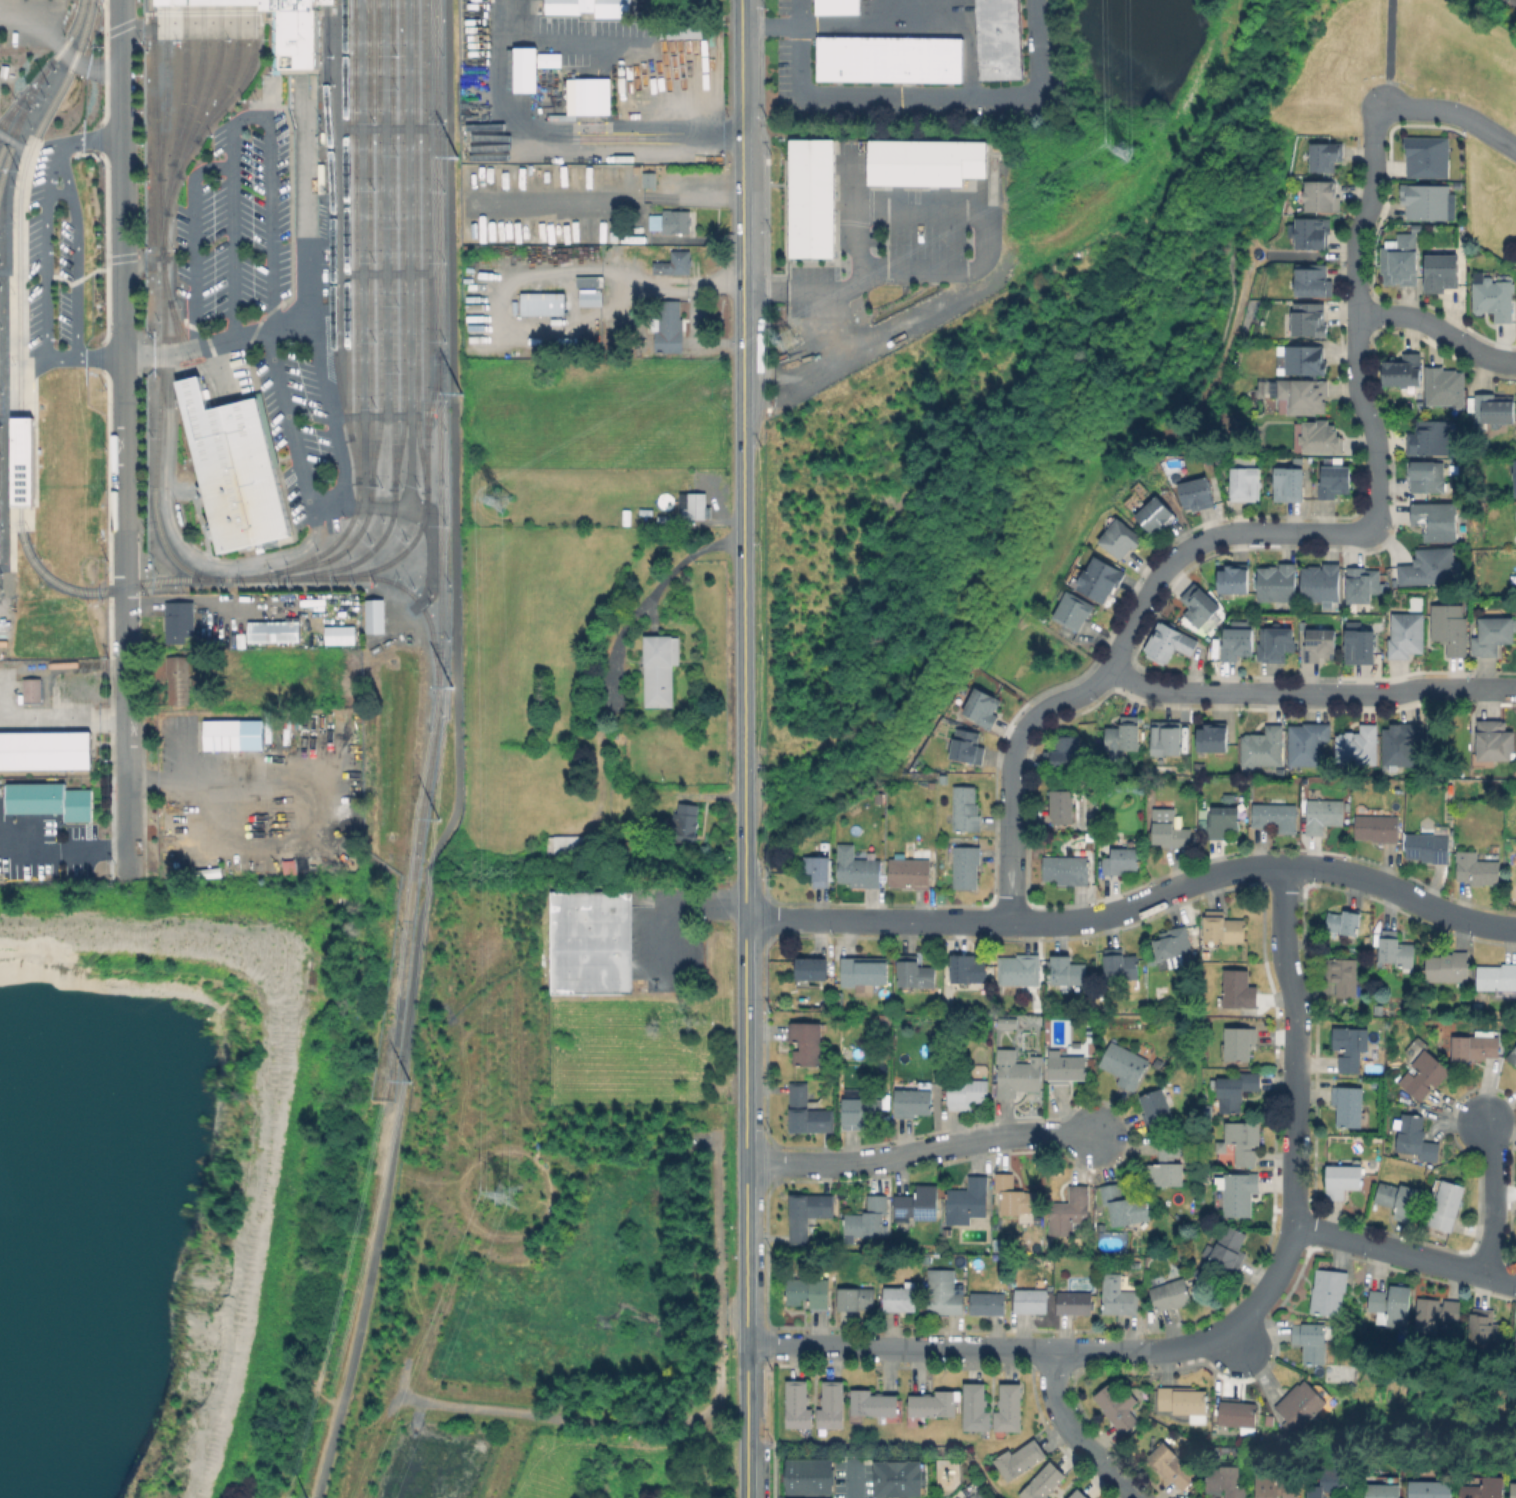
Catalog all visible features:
railway: (163, 2)
railway: (183, 2)
railway: (201, 2)
railway: (218, 2)
railway: (235, 2)
railway: (253, 2)
railway: (323, 2)
building: (695, 6)
building: (836, 6)
building: (592, 7)
road: (196, 19)
road: (878, 25)
road: (772, 27)
building: (282, 29)
building: (680, 29)
building: (996, 39)
road: (60, 47)
railway: (270, 47)
road: (1392, 53)
building: (887, 59)
railway: (45, 66)
building: (529, 66)
railway: (229, 75)
railway: (243, 78)
railway: (37, 79)
railway: (181, 84)
railway: (195, 85)
railway: (164, 91)
railway: (205, 91)
building: (586, 95)
road: (926, 96)
railway: (10, 108)
road: (1455, 114)
road: (247, 117)
railway: (12, 124)
road: (383, 127)
railway: (12, 137)
road: (87, 139)
road: (303, 143)
power tower: (1125, 149)
road: (555, 150)
building: (1424, 156)
building: (1324, 157)
building: (923, 162)
railway: (175, 173)
road: (429, 175)
building: (649, 178)
road: (57, 193)
building: (1322, 196)
building: (809, 198)
railway: (17, 201)
building: (1427, 202)
road: (338, 203)
road: (741, 206)
railway: (163, 207)
road: (384, 207)
railway: (344, 219)
railway: (331, 221)
building: (671, 221)
road: (325, 231)
building: (1310, 233)
building: (606, 238)
railway: (353, 240)
road: (194, 241)
railway: (367, 241)
railway: (376, 241)
railway: (390, 243)
railway: (400, 244)
railway: (422, 245)
railway: (413, 246)
road: (75, 249)
road: (360, 252)
road: (407, 254)
road: (158, 256)
road: (991, 257)
building: (675, 262)
building: (1401, 262)
road: (44, 266)
road: (5, 272)
road: (384, 272)
building: (1442, 273)
road: (82, 276)
railway: (162, 280)
building: (586, 280)
building: (1314, 281)
building: (590, 296)
building: (1494, 299)
building: (543, 303)
railway: (161, 307)
building: (1306, 318)
road: (693, 319)
building: (668, 326)
road: (1439, 330)
road: (255, 331)
power tower: (786, 337)
railway: (177, 338)
road: (10, 345)
railway: (192, 352)
road: (99, 355)
road: (27, 356)
building: (1303, 362)
building: (1404, 372)
building: (1445, 388)
building: (1302, 395)
railway: (430, 400)
building: (1494, 409)
road: (373, 415)
road: (4, 417)
railway: (3, 430)
building: (1320, 438)
road: (124, 439)
building: (1431, 439)
railway: (204, 451)
railway: (437, 459)
railway: (18, 460)
building: (21, 460)
road: (33, 463)
railway: (230, 463)
rooftop solar panel: (21, 468)
building: (233, 469)
rooftop solar panel: (21, 475)
building: (1513, 477)
building: (1424, 478)
building: (1246, 479)
rooftop solar panel: (21, 483)
building: (1334, 483)
building: (1290, 485)
rooftop solar panel: (20, 492)
building: (1197, 495)
power tower: (498, 498)
rooftop solar panel: (20, 500)
railway: (30, 504)
road: (328, 505)
building: (619, 506)
building: (695, 506)
building: (1157, 517)
building: (668, 519)
building: (1437, 521)
road: (1270, 531)
railway: (289, 536)
road: (173, 537)
building: (1120, 540)
railway: (334, 541)
road: (431, 541)
railway: (342, 548)
railway: (361, 556)
road: (5, 566)
building: (1429, 568)
railway: (346, 574)
building: (1234, 579)
building: (1099, 581)
building: (1278, 584)
building: (1321, 584)
building: (1363, 585)
railway: (91, 591)
road: (648, 593)
railway: (417, 601)
building: (1199, 607)
building: (1073, 614)
building: (372, 615)
building: (179, 621)
building: (1451, 630)
building: (274, 631)
building: (340, 634)
building: (1407, 635)
building: (1494, 637)
rooftop solar panel: (1314, 641)
building: (1238, 642)
building: (1169, 645)
building: (1274, 645)
building: (1320, 647)
building: (1360, 649)
rooftop solar panel: (1305, 653)
road: (743, 665)
building: (659, 669)
building: (179, 679)
building: (30, 690)
road: (1311, 693)
building: (983, 708)
building: (291, 724)
building: (237, 733)
building: (1122, 738)
building: (1167, 739)
building: (1211, 739)
building: (1493, 743)
building: (1308, 744)
building: (1401, 745)
building: (966, 746)
building: (1358, 746)
building: (1264, 749)
building: (44, 750)
building: (1063, 754)
road: (458, 757)
building: (1199, 767)
building: (943, 778)
building: (51, 801)
building: (1062, 806)
building: (965, 809)
building: (1323, 815)
building: (1275, 816)
building: (1223, 821)
building: (685, 822)
building: (1377, 828)
building: (1167, 833)
building: (1429, 846)
building: (566, 847)
road: (64, 850)
building: (856, 851)
building: (1120, 860)
building: (966, 866)
building: (1066, 869)
building: (1476, 869)
building: (820, 871)
building: (860, 872)
building: (910, 873)
road: (668, 902)
road: (1137, 907)
building: (1344, 924)
building: (1224, 927)
building: (589, 942)
building: (1173, 942)
building: (1396, 950)
building: (1120, 965)
building: (1448, 967)
building: (812, 968)
building: (968, 968)
building: (1019, 970)
building: (864, 971)
building: (1069, 971)
building: (915, 972)
building: (1342, 976)
building: (1498, 979)
building: (1239, 989)
building: (837, 1002)
building: (1378, 1009)
building: (956, 1012)
building: (1005, 1023)
building: (806, 1043)
building: (1240, 1043)
road: (1294, 1044)
building: (1476, 1045)
building: (1350, 1047)
building: (1512, 1056)
building: (1124, 1064)
building: (1067, 1068)
building: (1016, 1073)
building: (1424, 1073)
building: (1235, 1090)
building: (967, 1093)
road: (273, 1095)
building: (913, 1102)
building: (1348, 1105)
building: (1395, 1109)
building: (1156, 1110)
building: (808, 1111)
building: (862, 1112)
road: (744, 1131)
building: (1416, 1137)
building: (1242, 1141)
road: (920, 1151)
building: (1168, 1163)
quarry: (155, 1173)
building: (1344, 1179)
building: (1015, 1193)
building: (1239, 1193)
power tower: (506, 1195)
road: (1487, 1196)
building: (1400, 1200)
building: (967, 1201)
building: (918, 1203)
building: (1447, 1206)
building: (1125, 1207)
building: (1068, 1211)
rooftop solar panel: (899, 1212)
building: (807, 1214)
rooftop solar panel: (927, 1214)
building: (868, 1219)
building: (946, 1231)
building: (1228, 1248)
road: (1402, 1255)
building: (924, 1263)
building: (808, 1292)
building: (1330, 1292)
building: (944, 1295)
building: (1119, 1295)
building: (1171, 1295)
building: (856, 1298)
building: (900, 1298)
building: (1031, 1300)
building: (1075, 1302)
building: (988, 1304)
building: (1391, 1306)
building: (1436, 1313)
building: (1485, 1327)
building: (1514, 1337)
building: (1311, 1341)
road: (1236, 1344)
road: (1051, 1349)
road: (745, 1392)
building: (1183, 1400)
building: (873, 1403)
building: (933, 1404)
building: (1301, 1404)
building: (798, 1405)
building: (832, 1405)
building: (976, 1407)
building: (1009, 1408)
building: (1117, 1408)
building: (1237, 1413)
road: (1072, 1434)
building: (1020, 1459)
building: (1172, 1466)
road: (746, 1469)
building: (806, 1476)
building: (896, 1478)
road: (857, 1480)
building: (1227, 1480)
building: (1331, 1481)
building: (1044, 1482)
building: (1275, 1485)
building: (1484, 1488)
building: (1430, 1489)
building: (1514, 1490)
building: (1384, 1491)
building: (1078, 1494)

